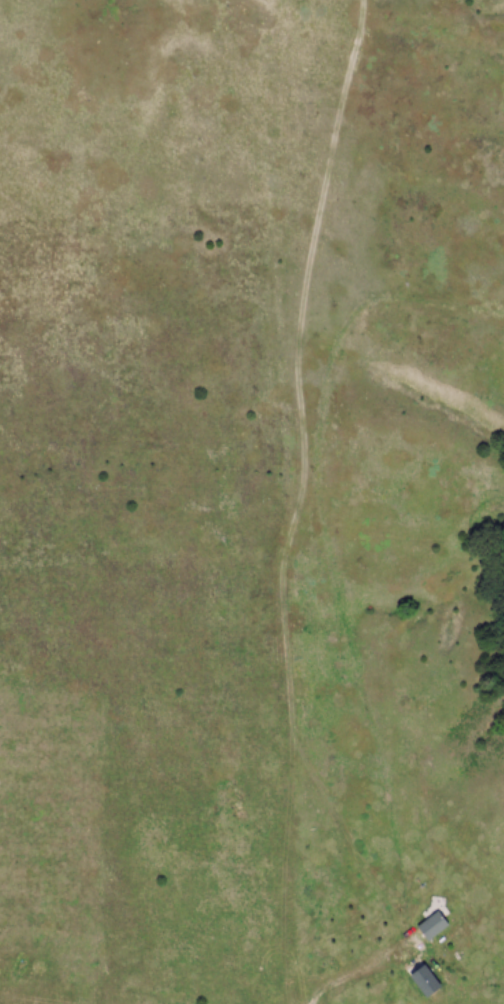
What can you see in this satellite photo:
building: (435, 927)

